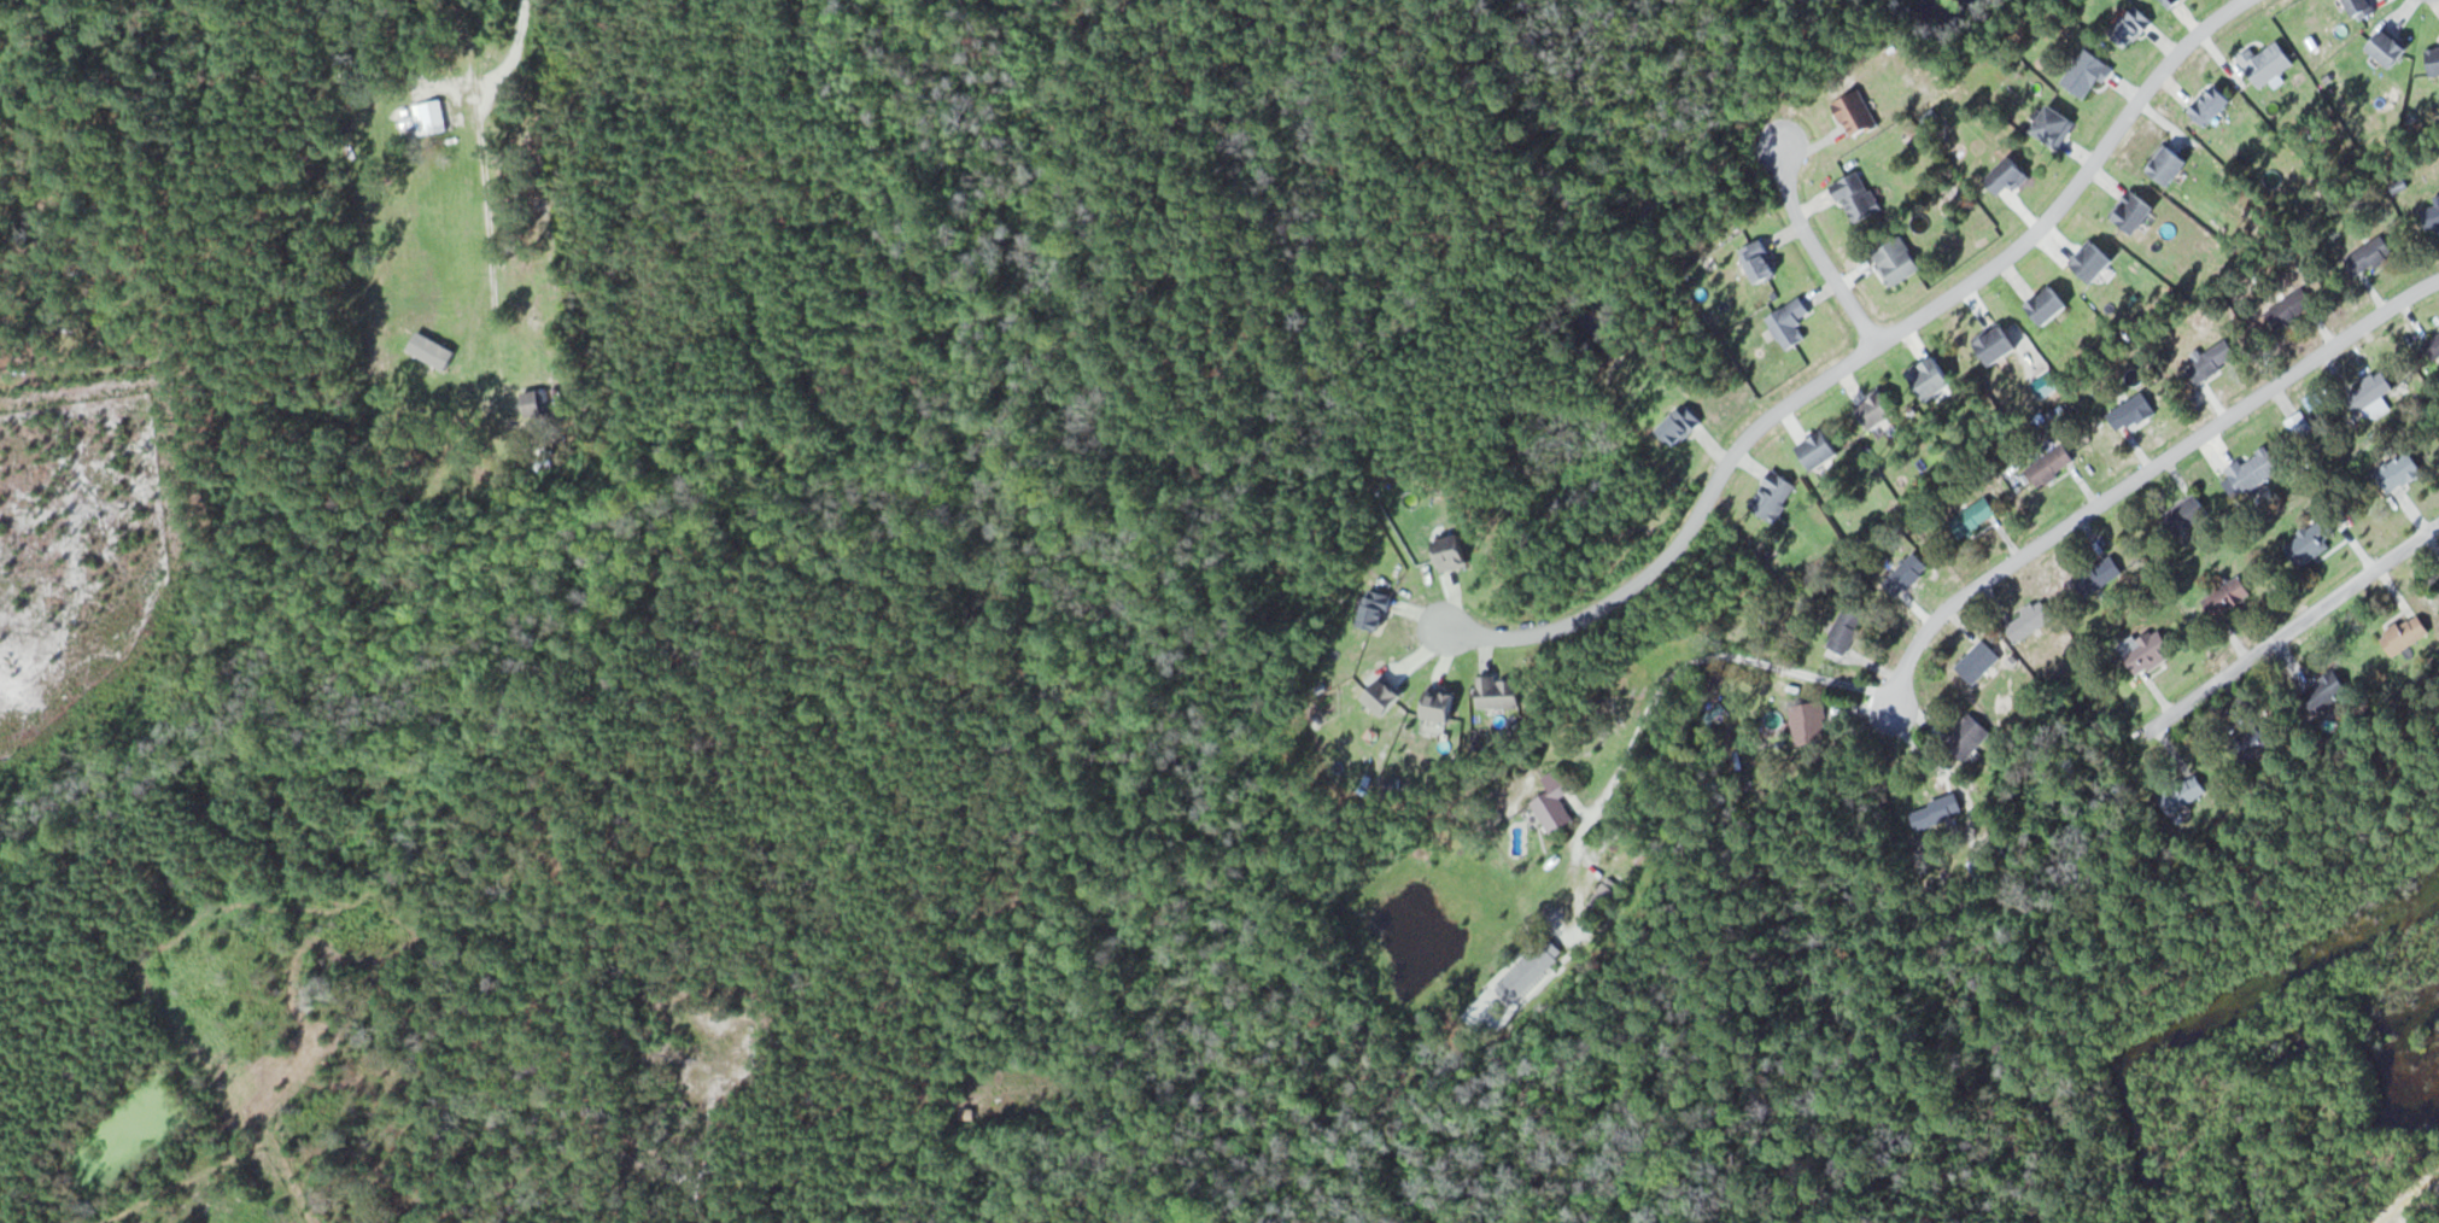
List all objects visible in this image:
building: (2362, 8)
building: (2133, 24)
building: (2390, 48)
building: (2434, 60)
building: (2269, 62)
building: (2087, 72)
building: (2211, 104)
building: (1856, 111)
building: (2054, 123)
building: (2169, 163)
building: (2007, 175)
building: (1856, 194)
road: (486, 200)
building: (2134, 210)
building: (2432, 216)
road: (1812, 252)
building: (2370, 254)
building: (2093, 258)
building: (1896, 259)
building: (2048, 303)
building: (2291, 308)
building: (1790, 320)
building: (1996, 341)
building: (2434, 346)
road: (1859, 358)
building: (2212, 359)
building: (2369, 390)
building: (532, 402)
building: (2131, 411)
building: (2299, 423)
building: (1681, 425)
building: (1819, 447)
building: (2051, 466)
building: (2254, 469)
building: (2402, 470)
road: (2141, 473)
building: (1773, 495)
building: (2187, 514)
building: (1973, 517)
building: (2310, 543)
building: (1451, 551)
building: (1907, 573)
building: (2099, 575)
building: (2228, 596)
building: (2030, 620)
road: (2291, 628)
building: (2405, 634)
building: (2151, 653)
building: (1979, 661)
road: (1663, 685)
building: (1499, 690)
building: (2326, 690)
building: (1384, 695)
building: (1440, 702)
building: (1811, 721)
building: (1967, 735)
building: (2257, 743)
building: (2182, 791)
building: (1554, 801)
building: (1937, 811)
building: (1977, 866)
building: (1604, 896)
road: (578, 1037)

